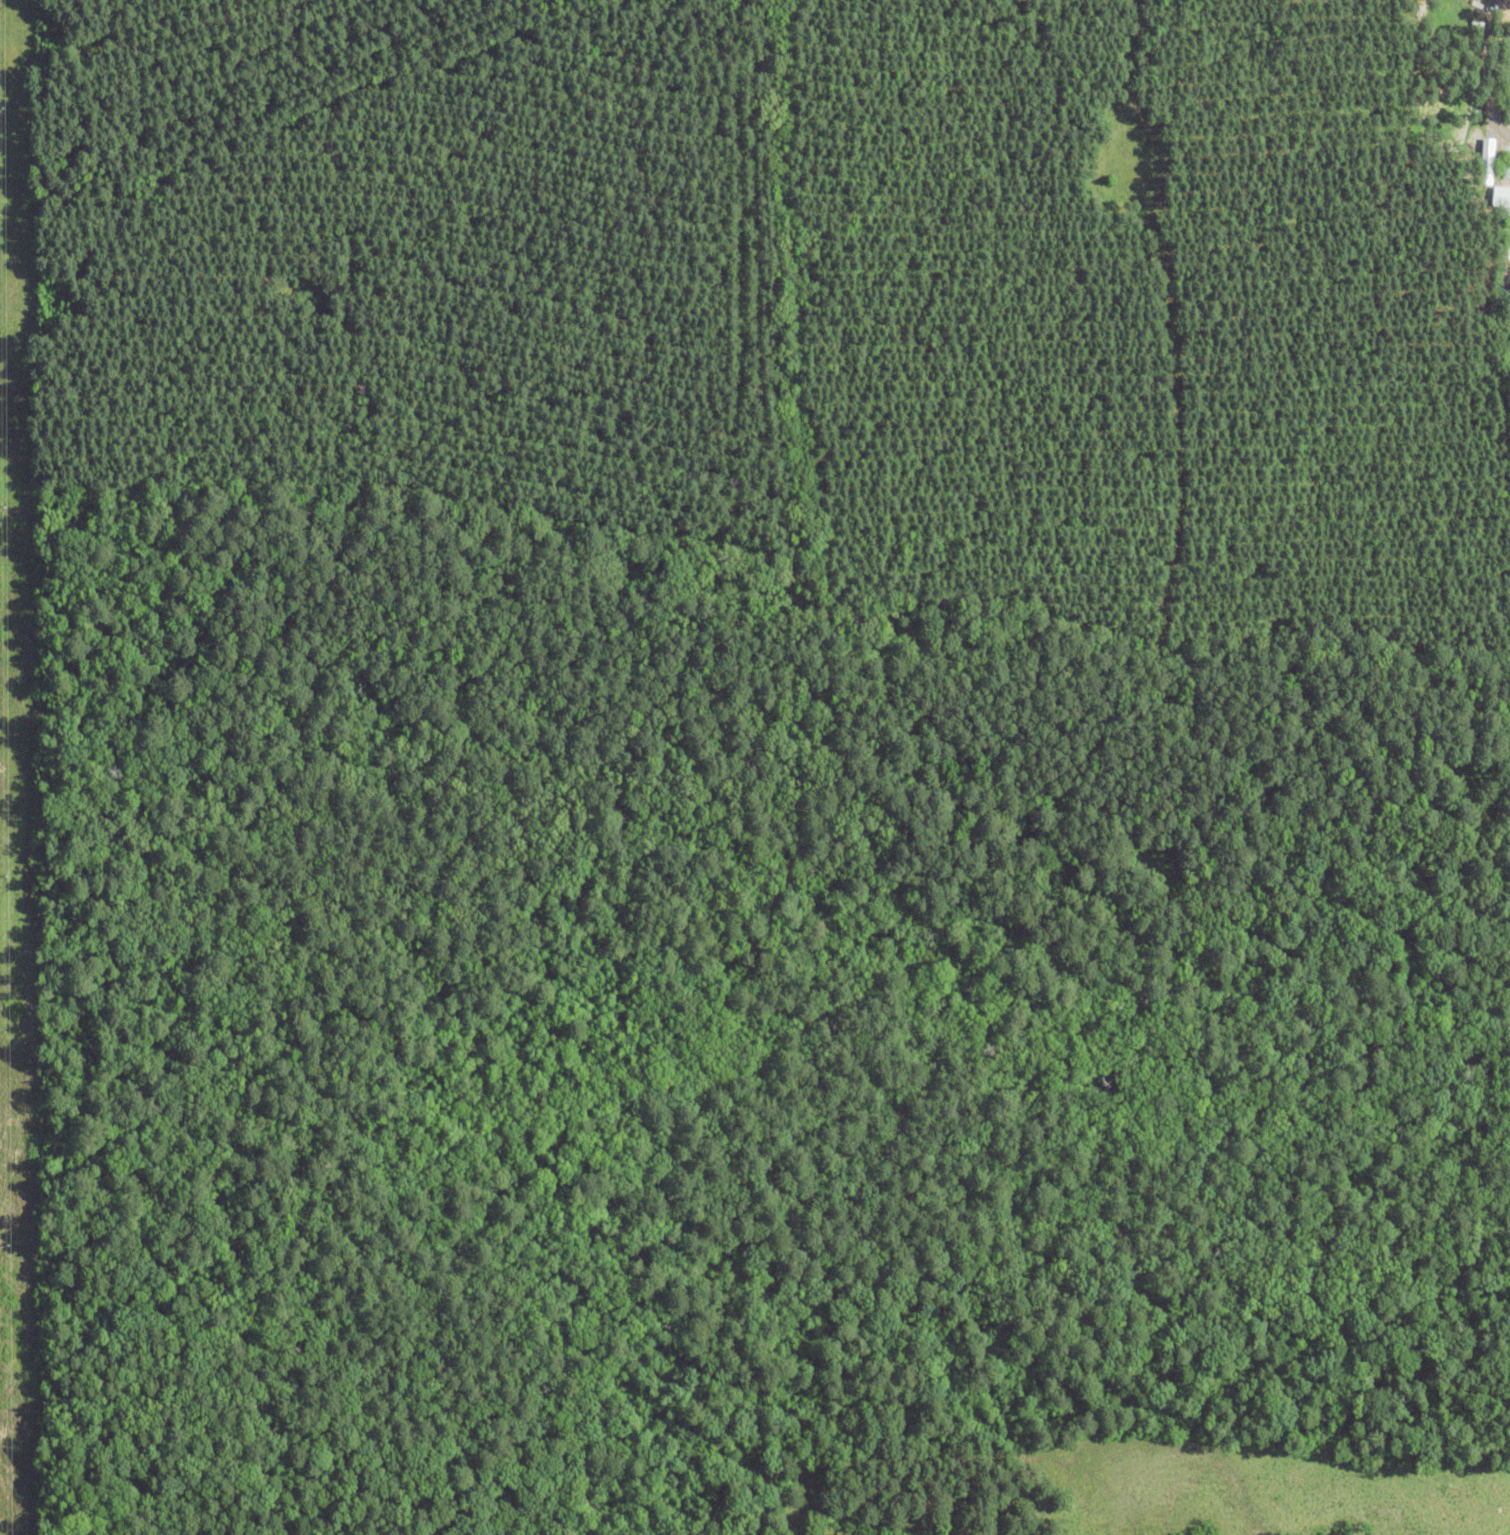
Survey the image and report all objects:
building: (1506, 167)

